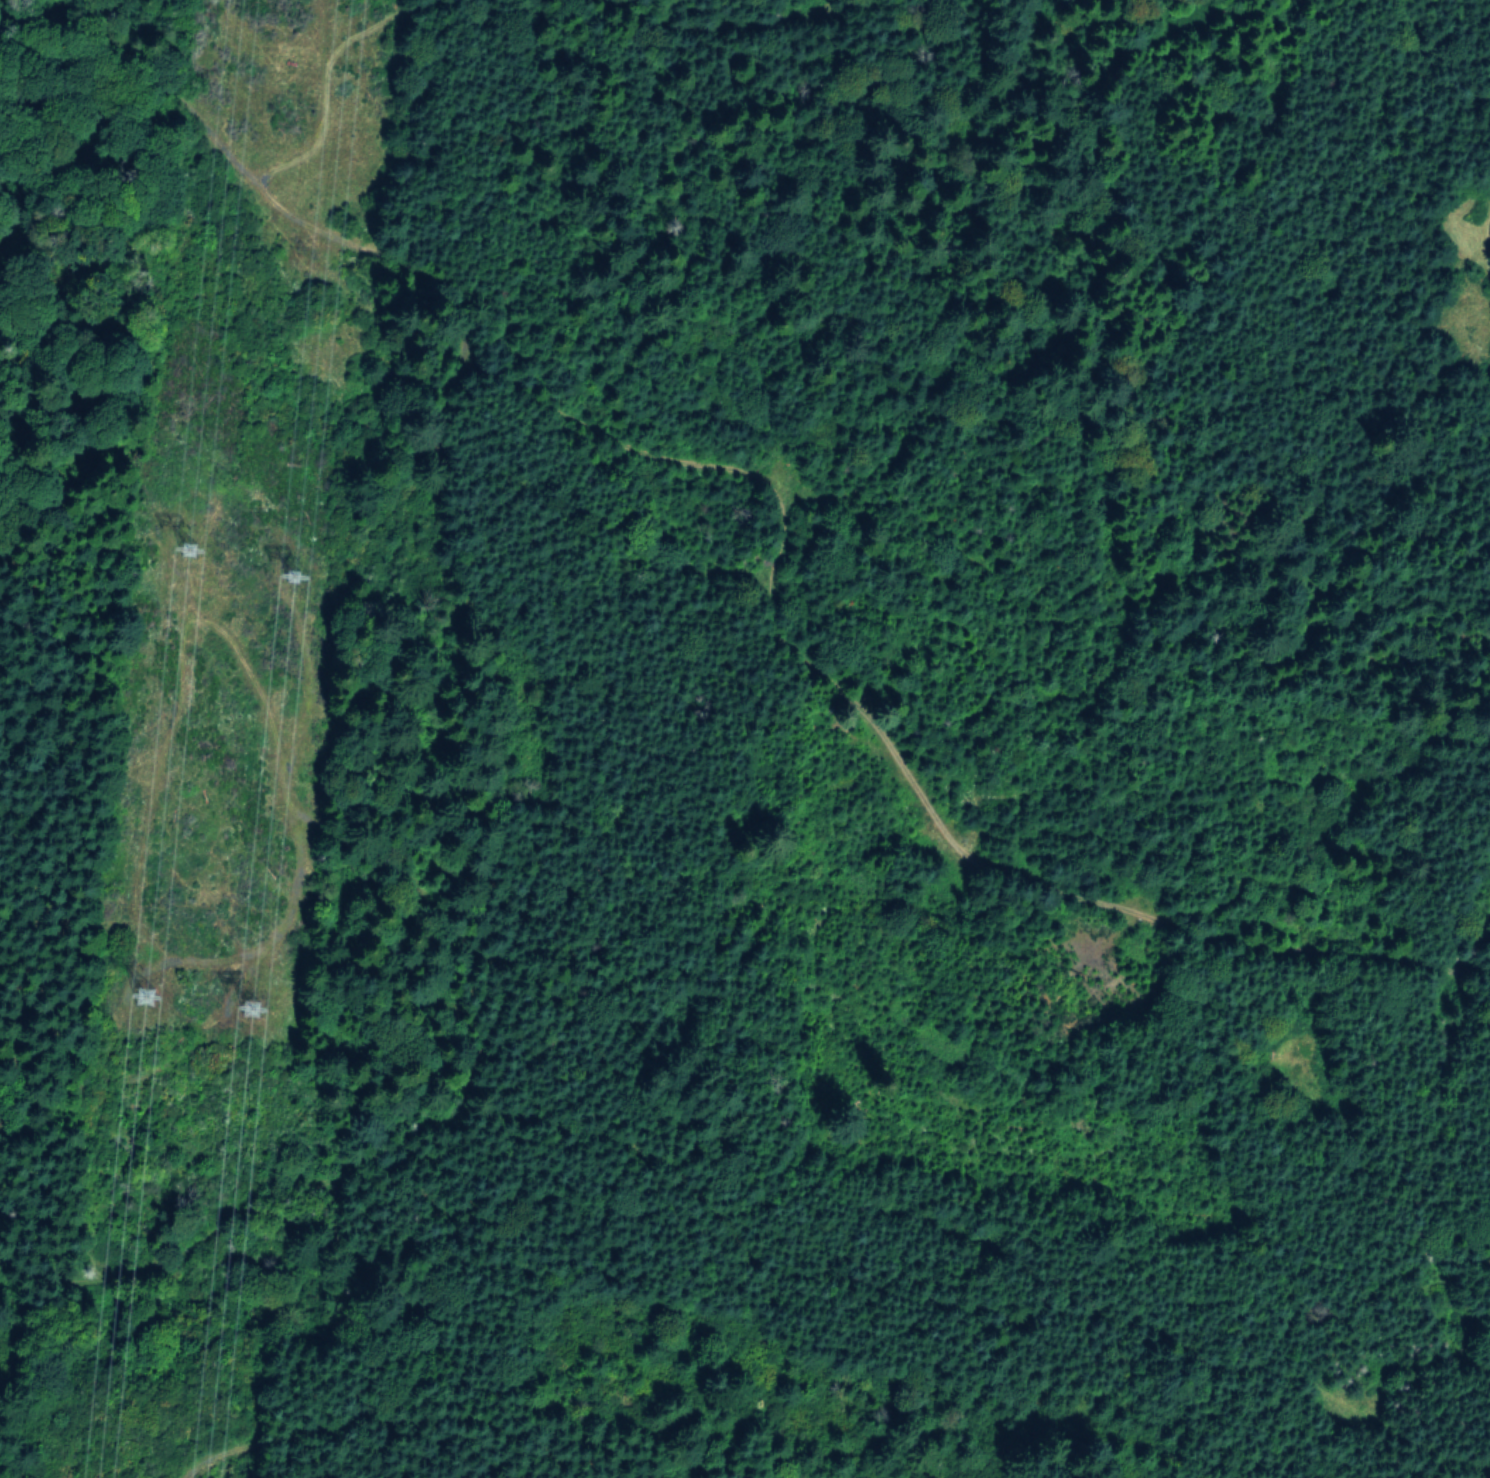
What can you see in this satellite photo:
power tower: (192, 560)
power tower: (279, 595)
power tower: (134, 1002)
power tower: (246, 1024)

